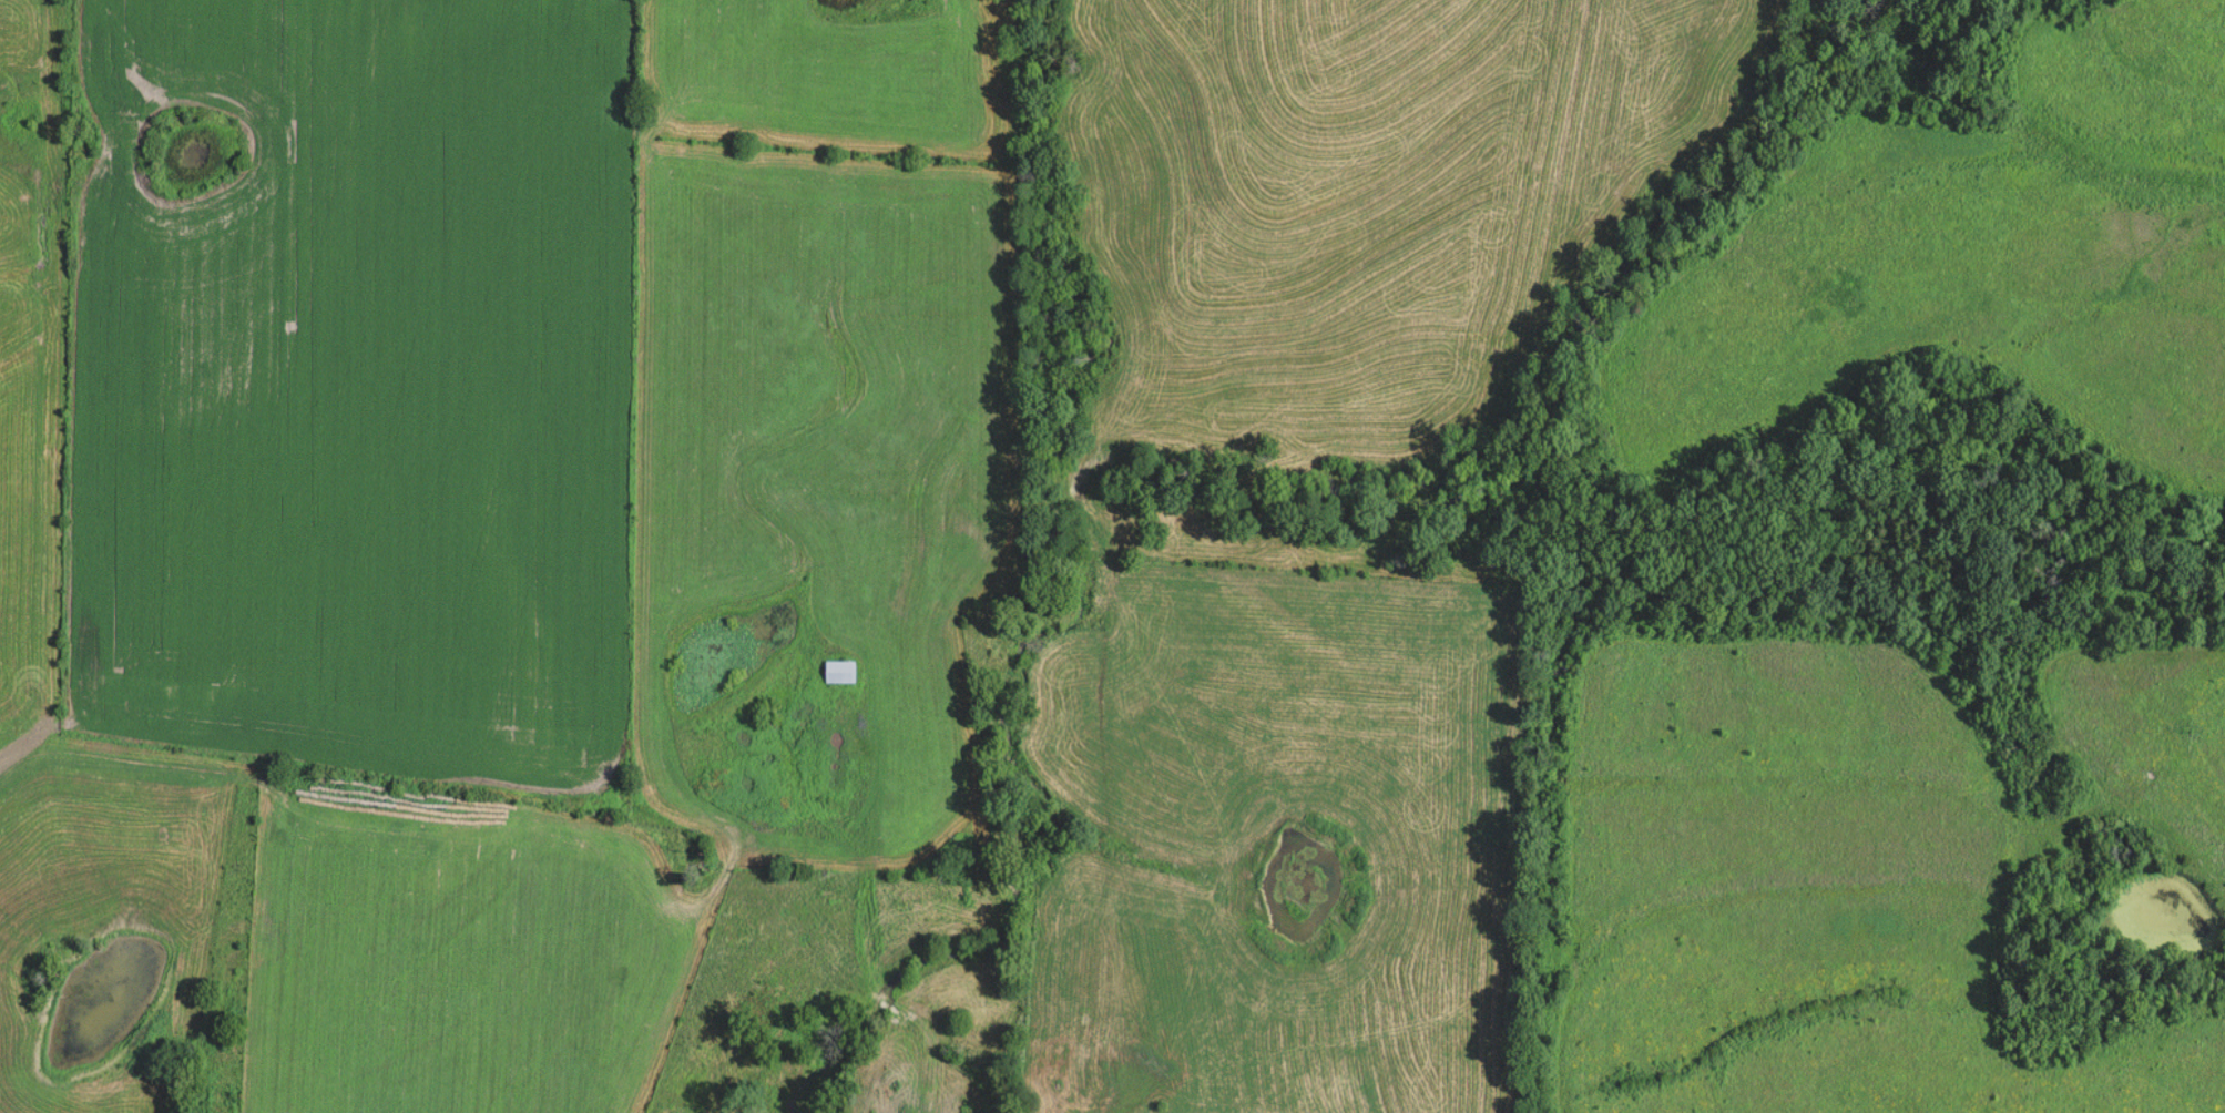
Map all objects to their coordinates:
building: (834, 672)
road: (553, 839)

